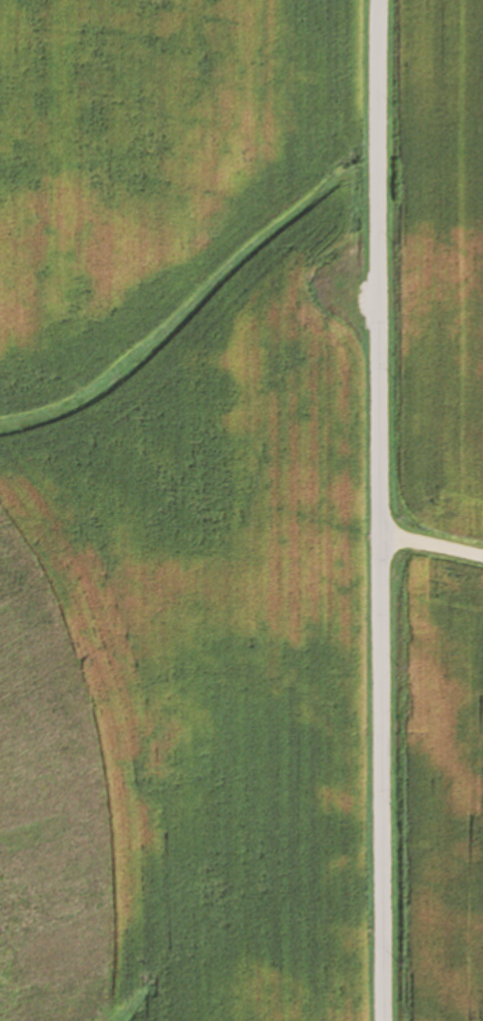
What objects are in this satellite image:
road: (362, 510)
road: (421, 608)

